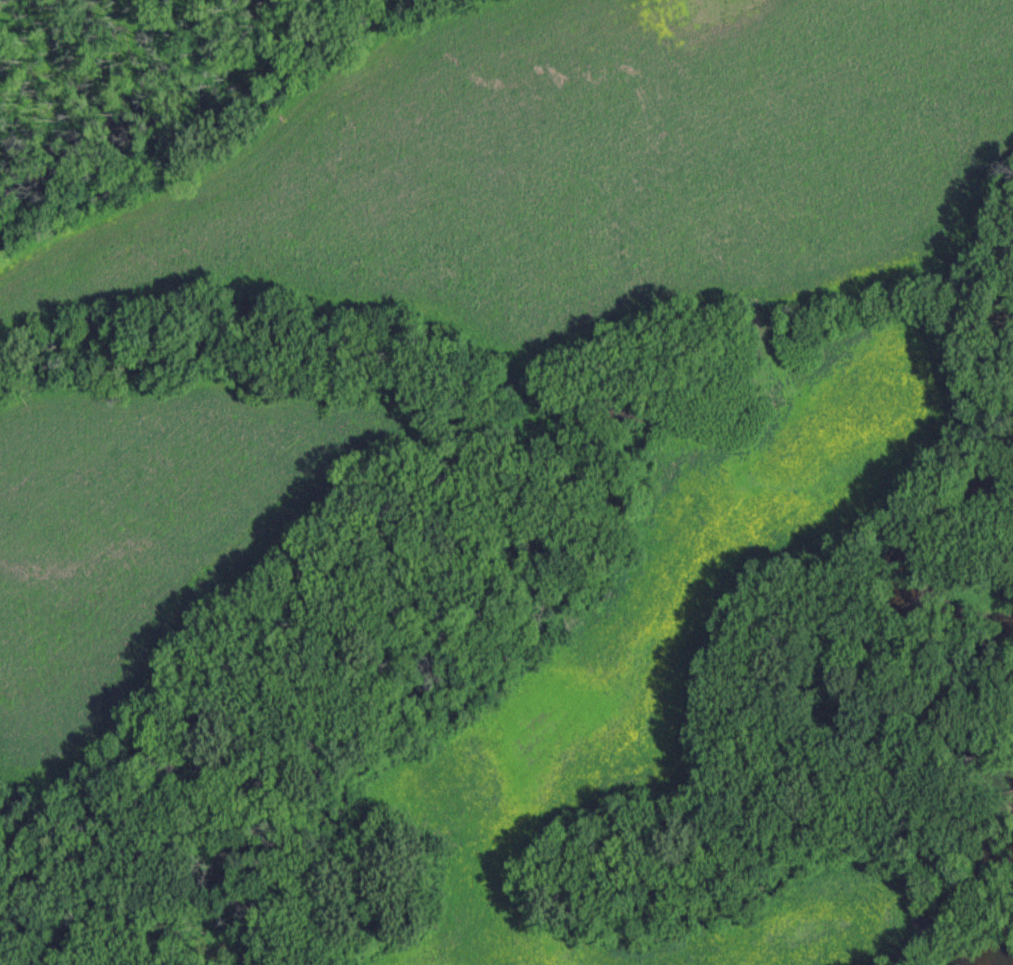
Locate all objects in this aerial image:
river: (974, 574)

